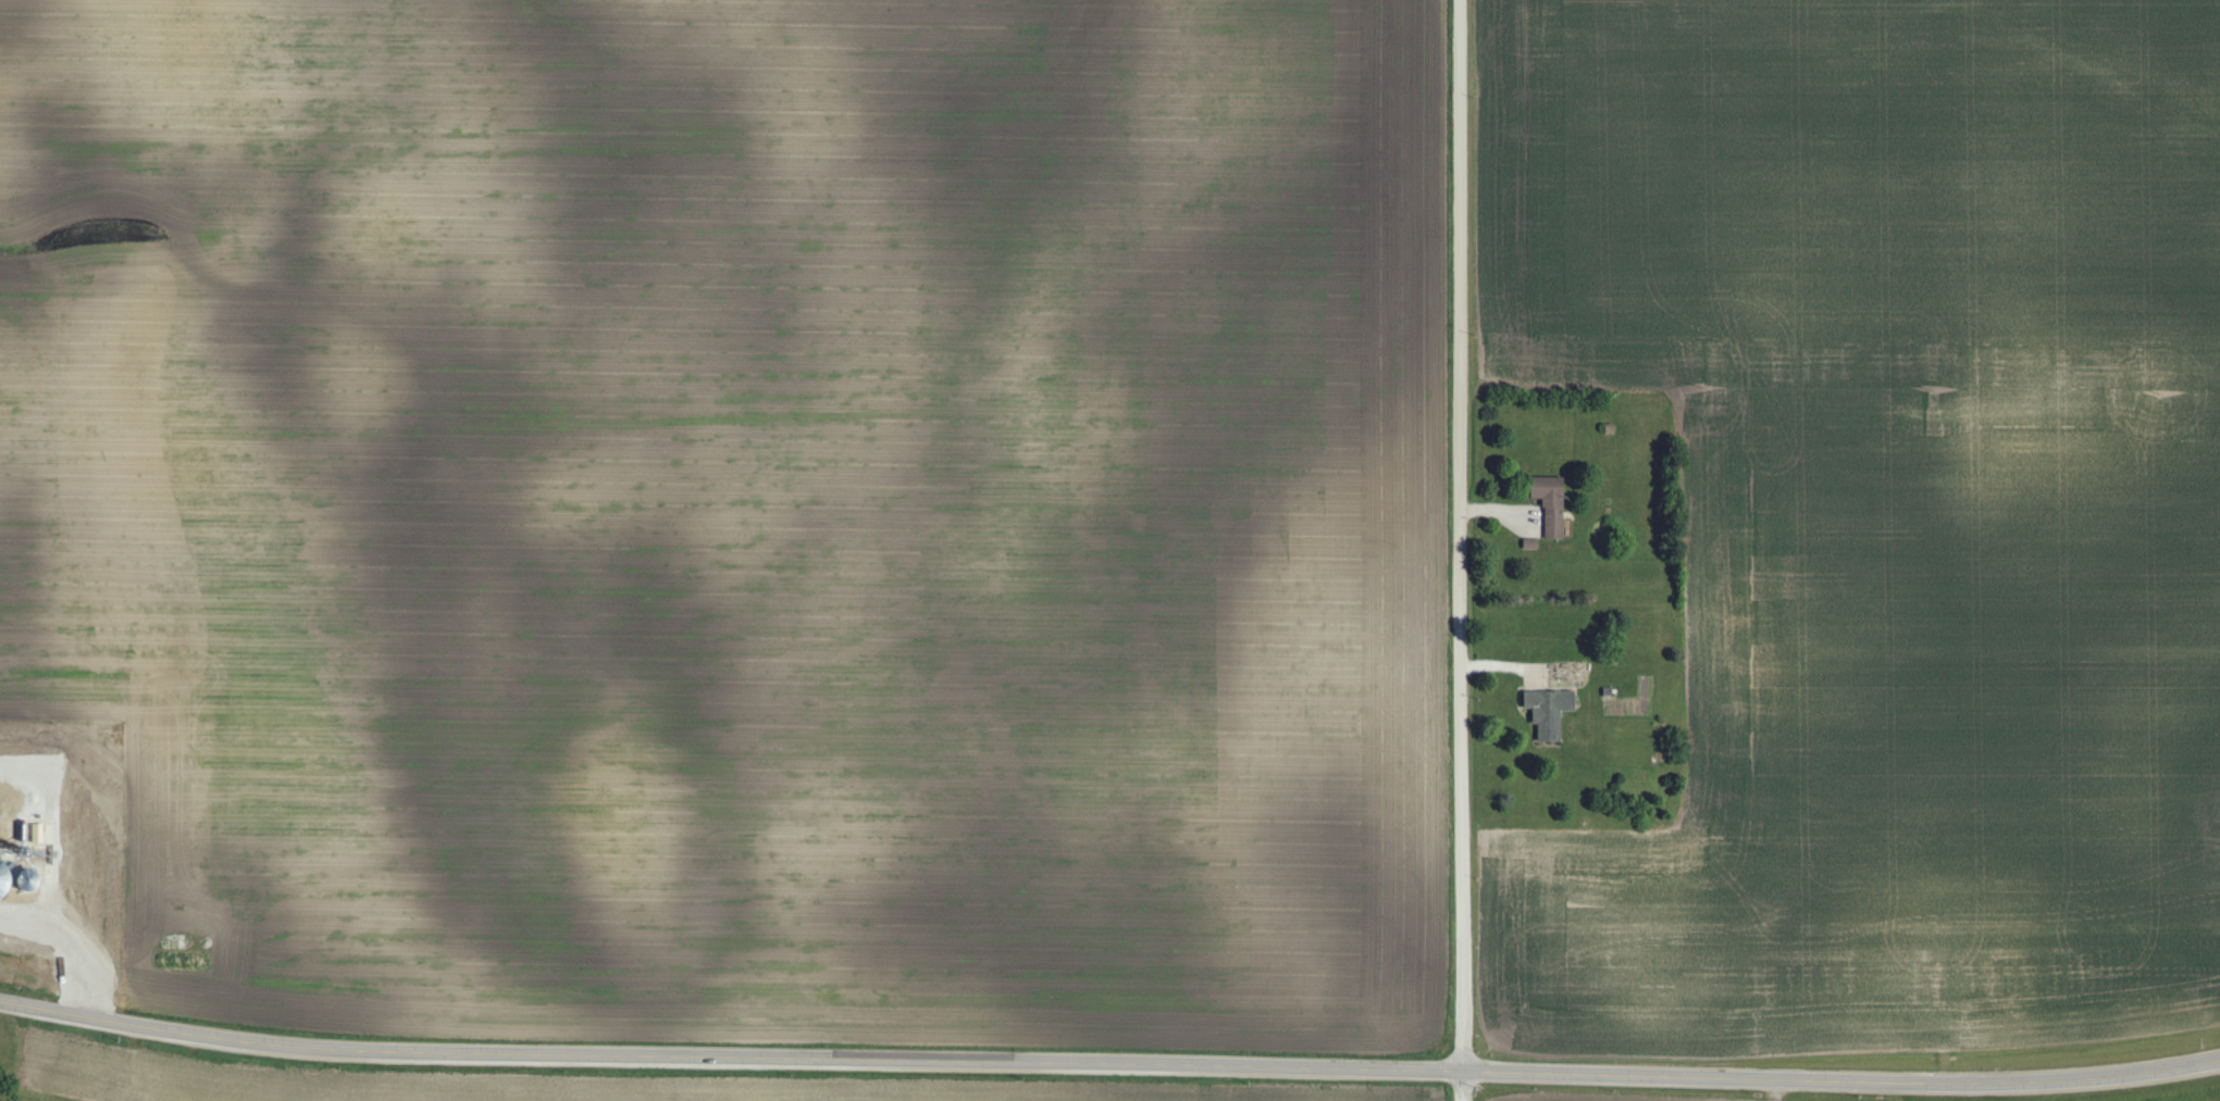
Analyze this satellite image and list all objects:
building: (1549, 504)
road: (1459, 550)
building: (1548, 712)
road: (1108, 1063)

